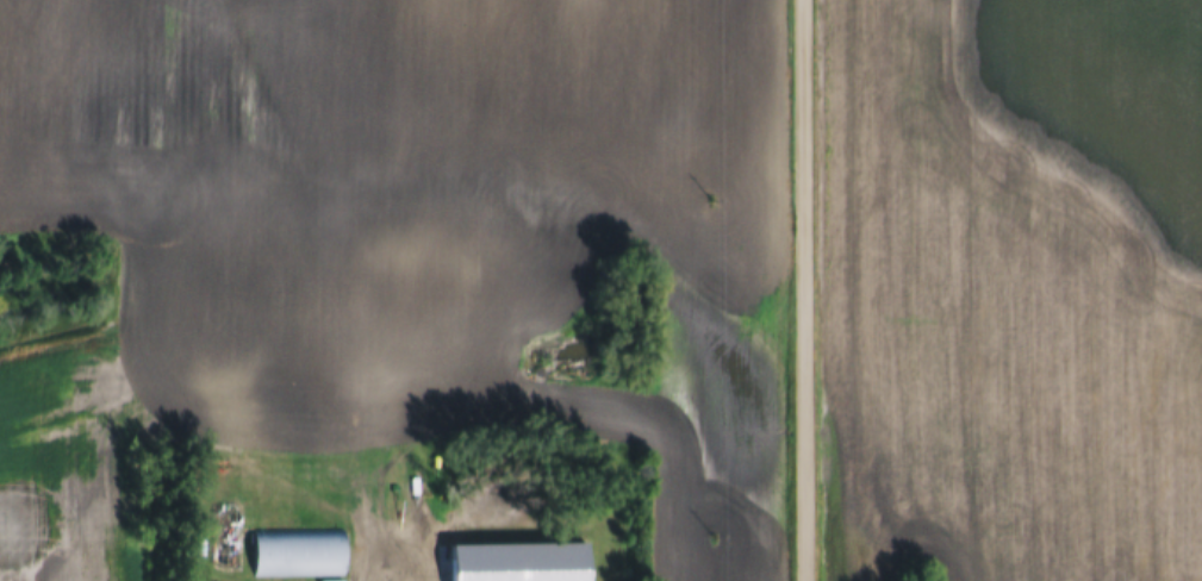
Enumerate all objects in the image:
road: (799, 290)
building: (405, 513)
road: (357, 548)
building: (295, 552)

